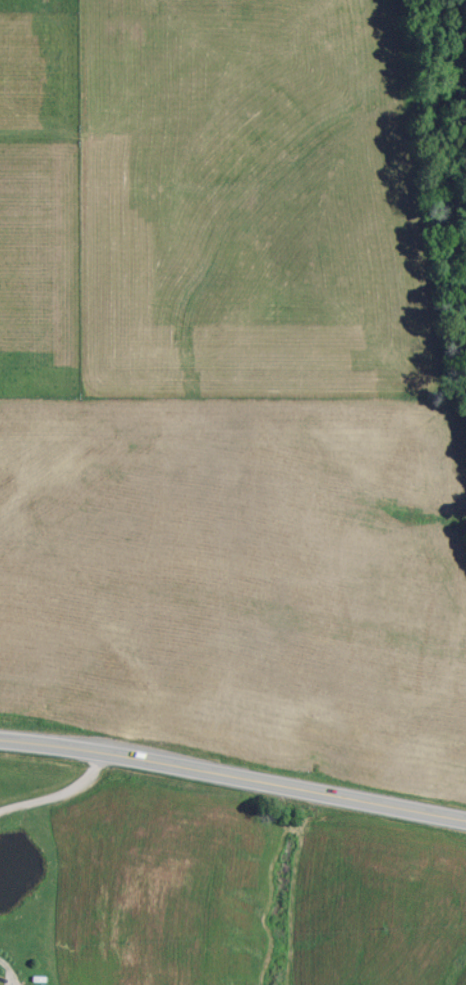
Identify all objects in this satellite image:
road: (233, 771)
road: (59, 790)

